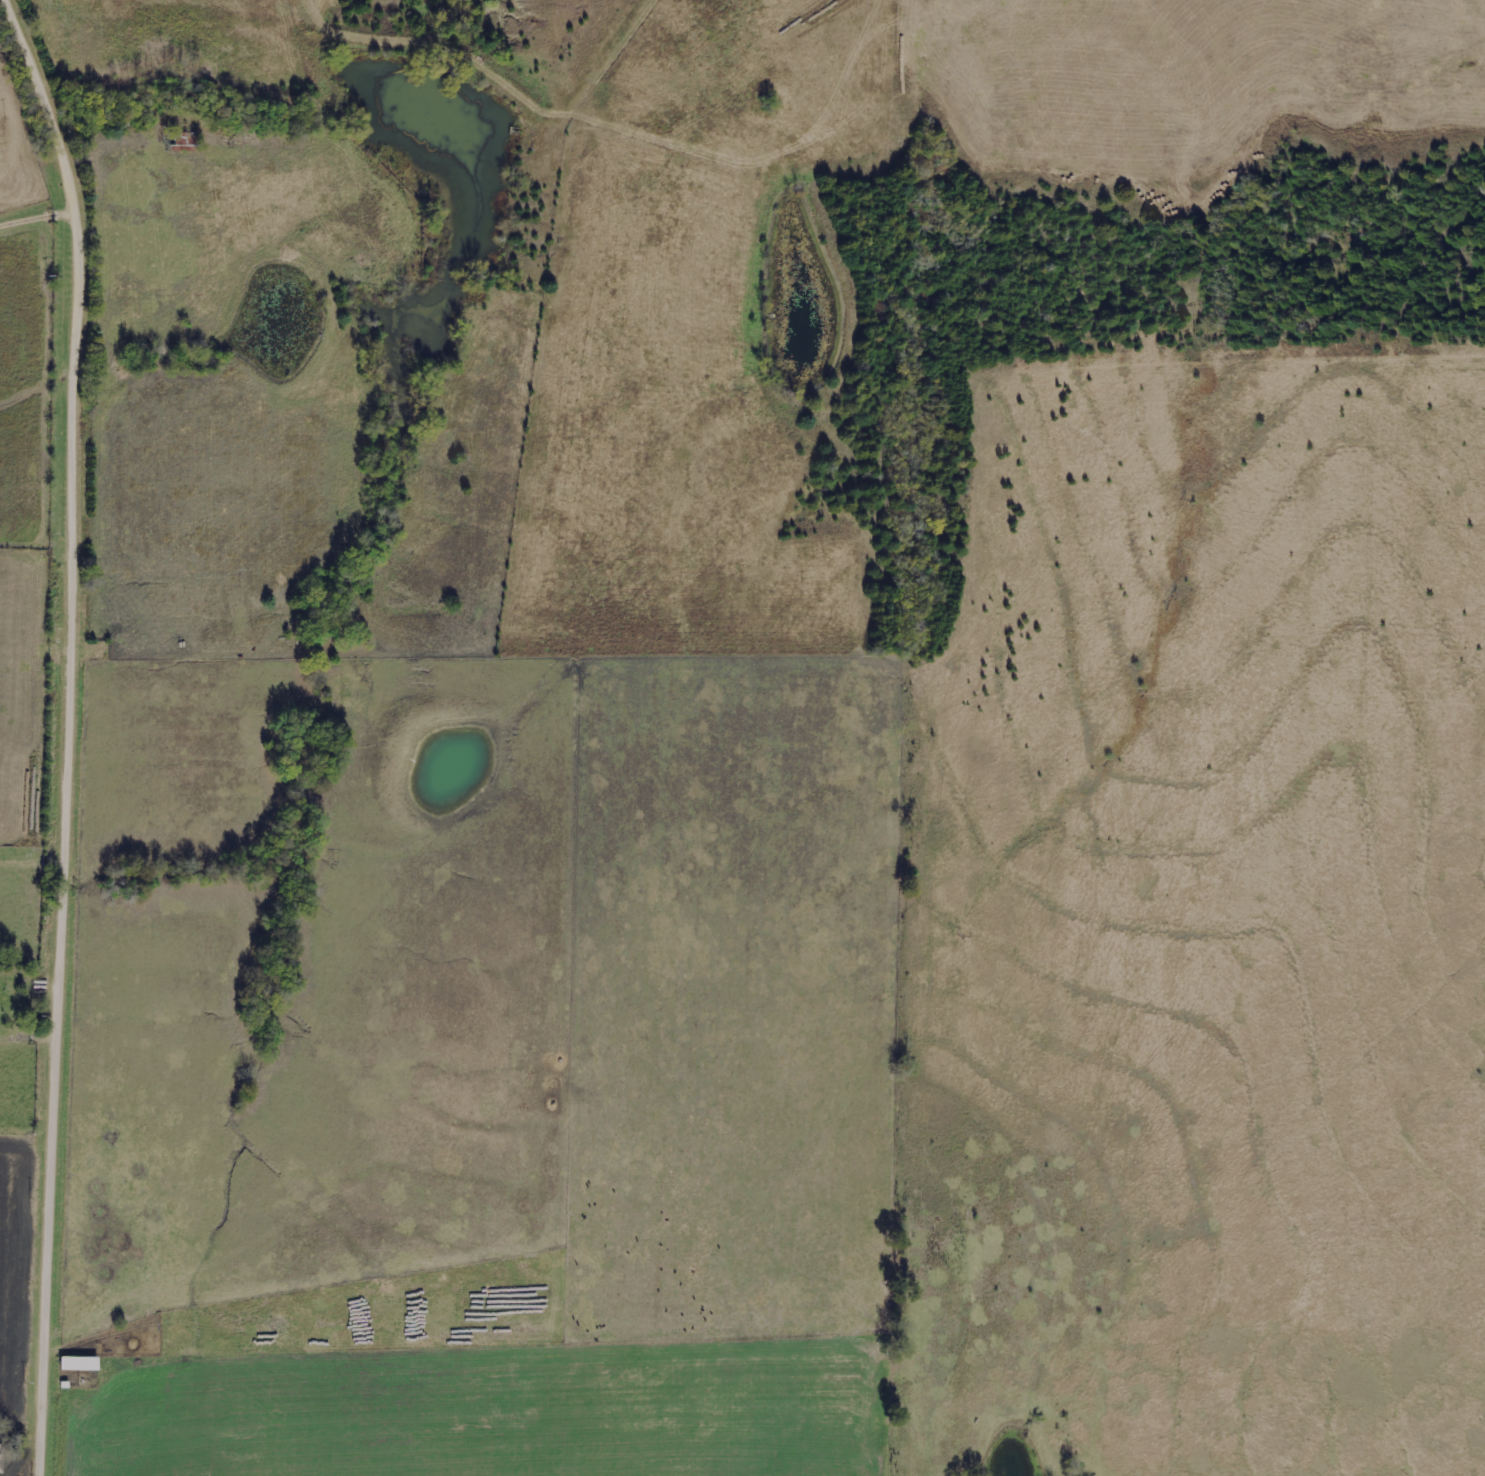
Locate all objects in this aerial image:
building: (186, 142)
road: (56, 730)
building: (78, 1363)
building: (1, 1456)

